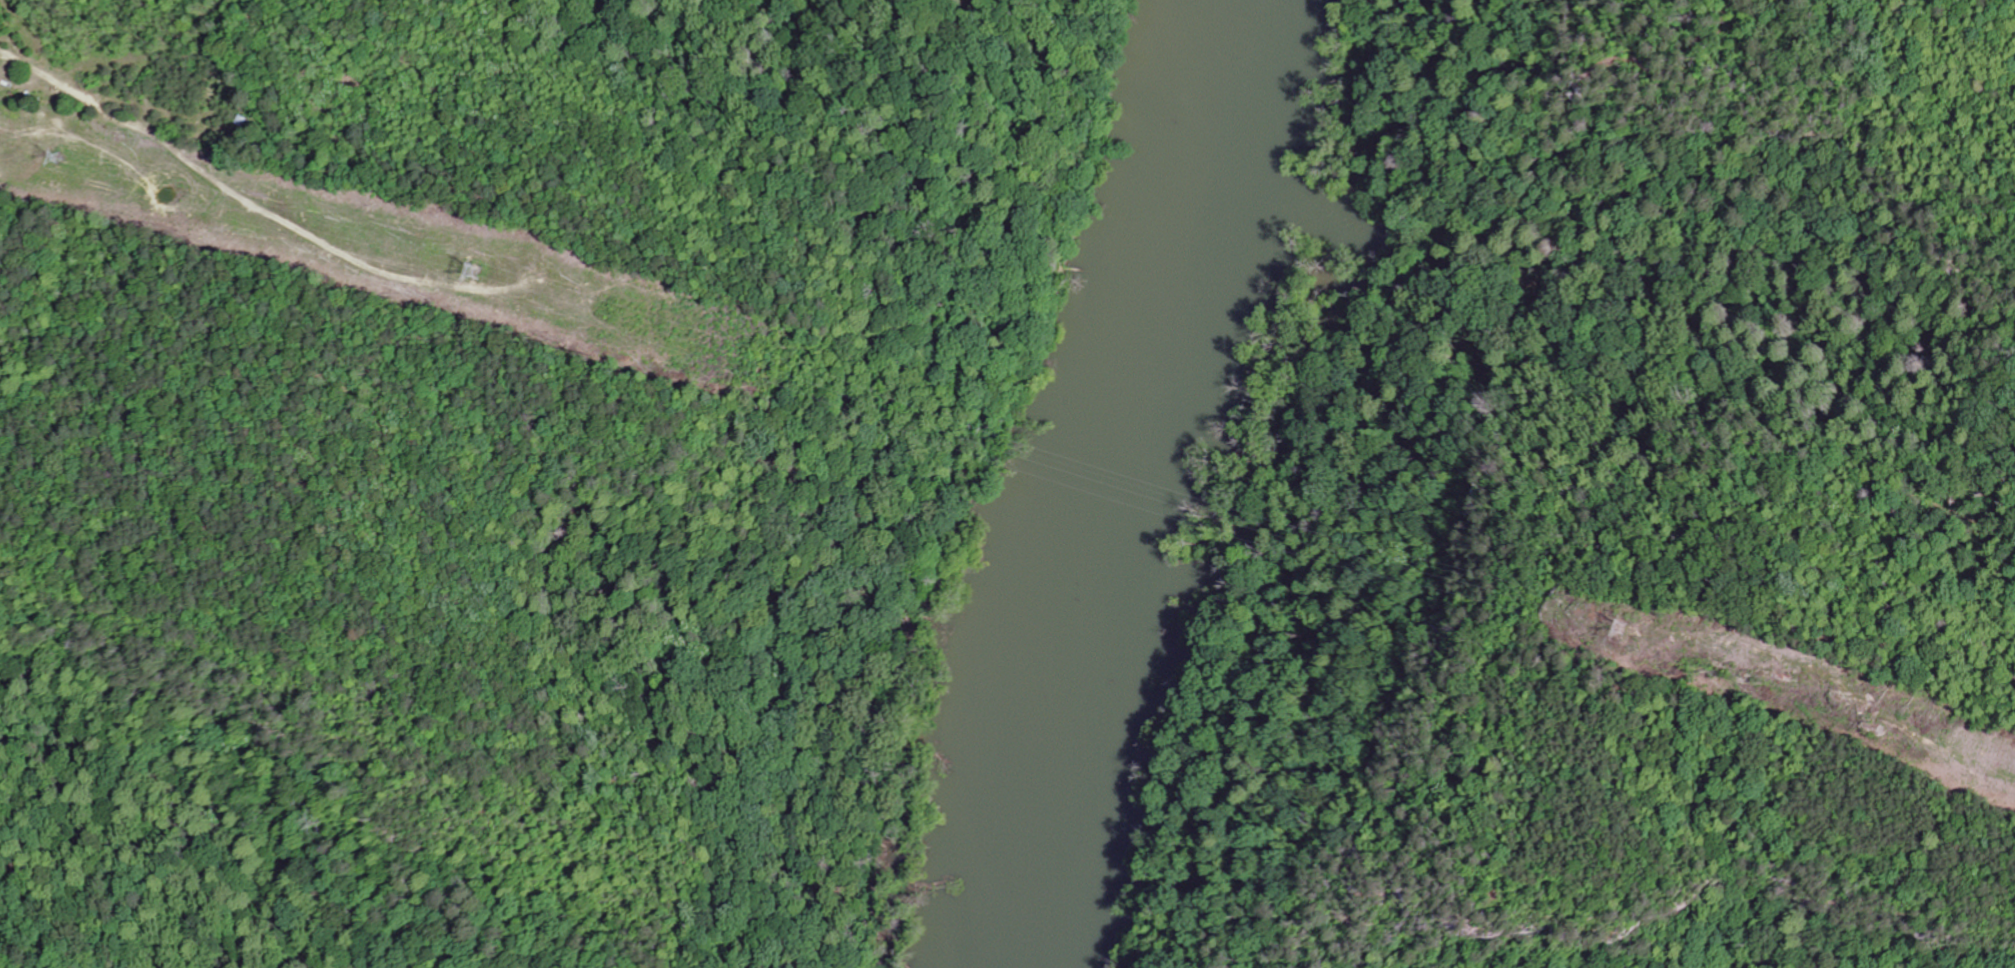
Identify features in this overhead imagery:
road: (301, 233)
river: (1109, 479)

